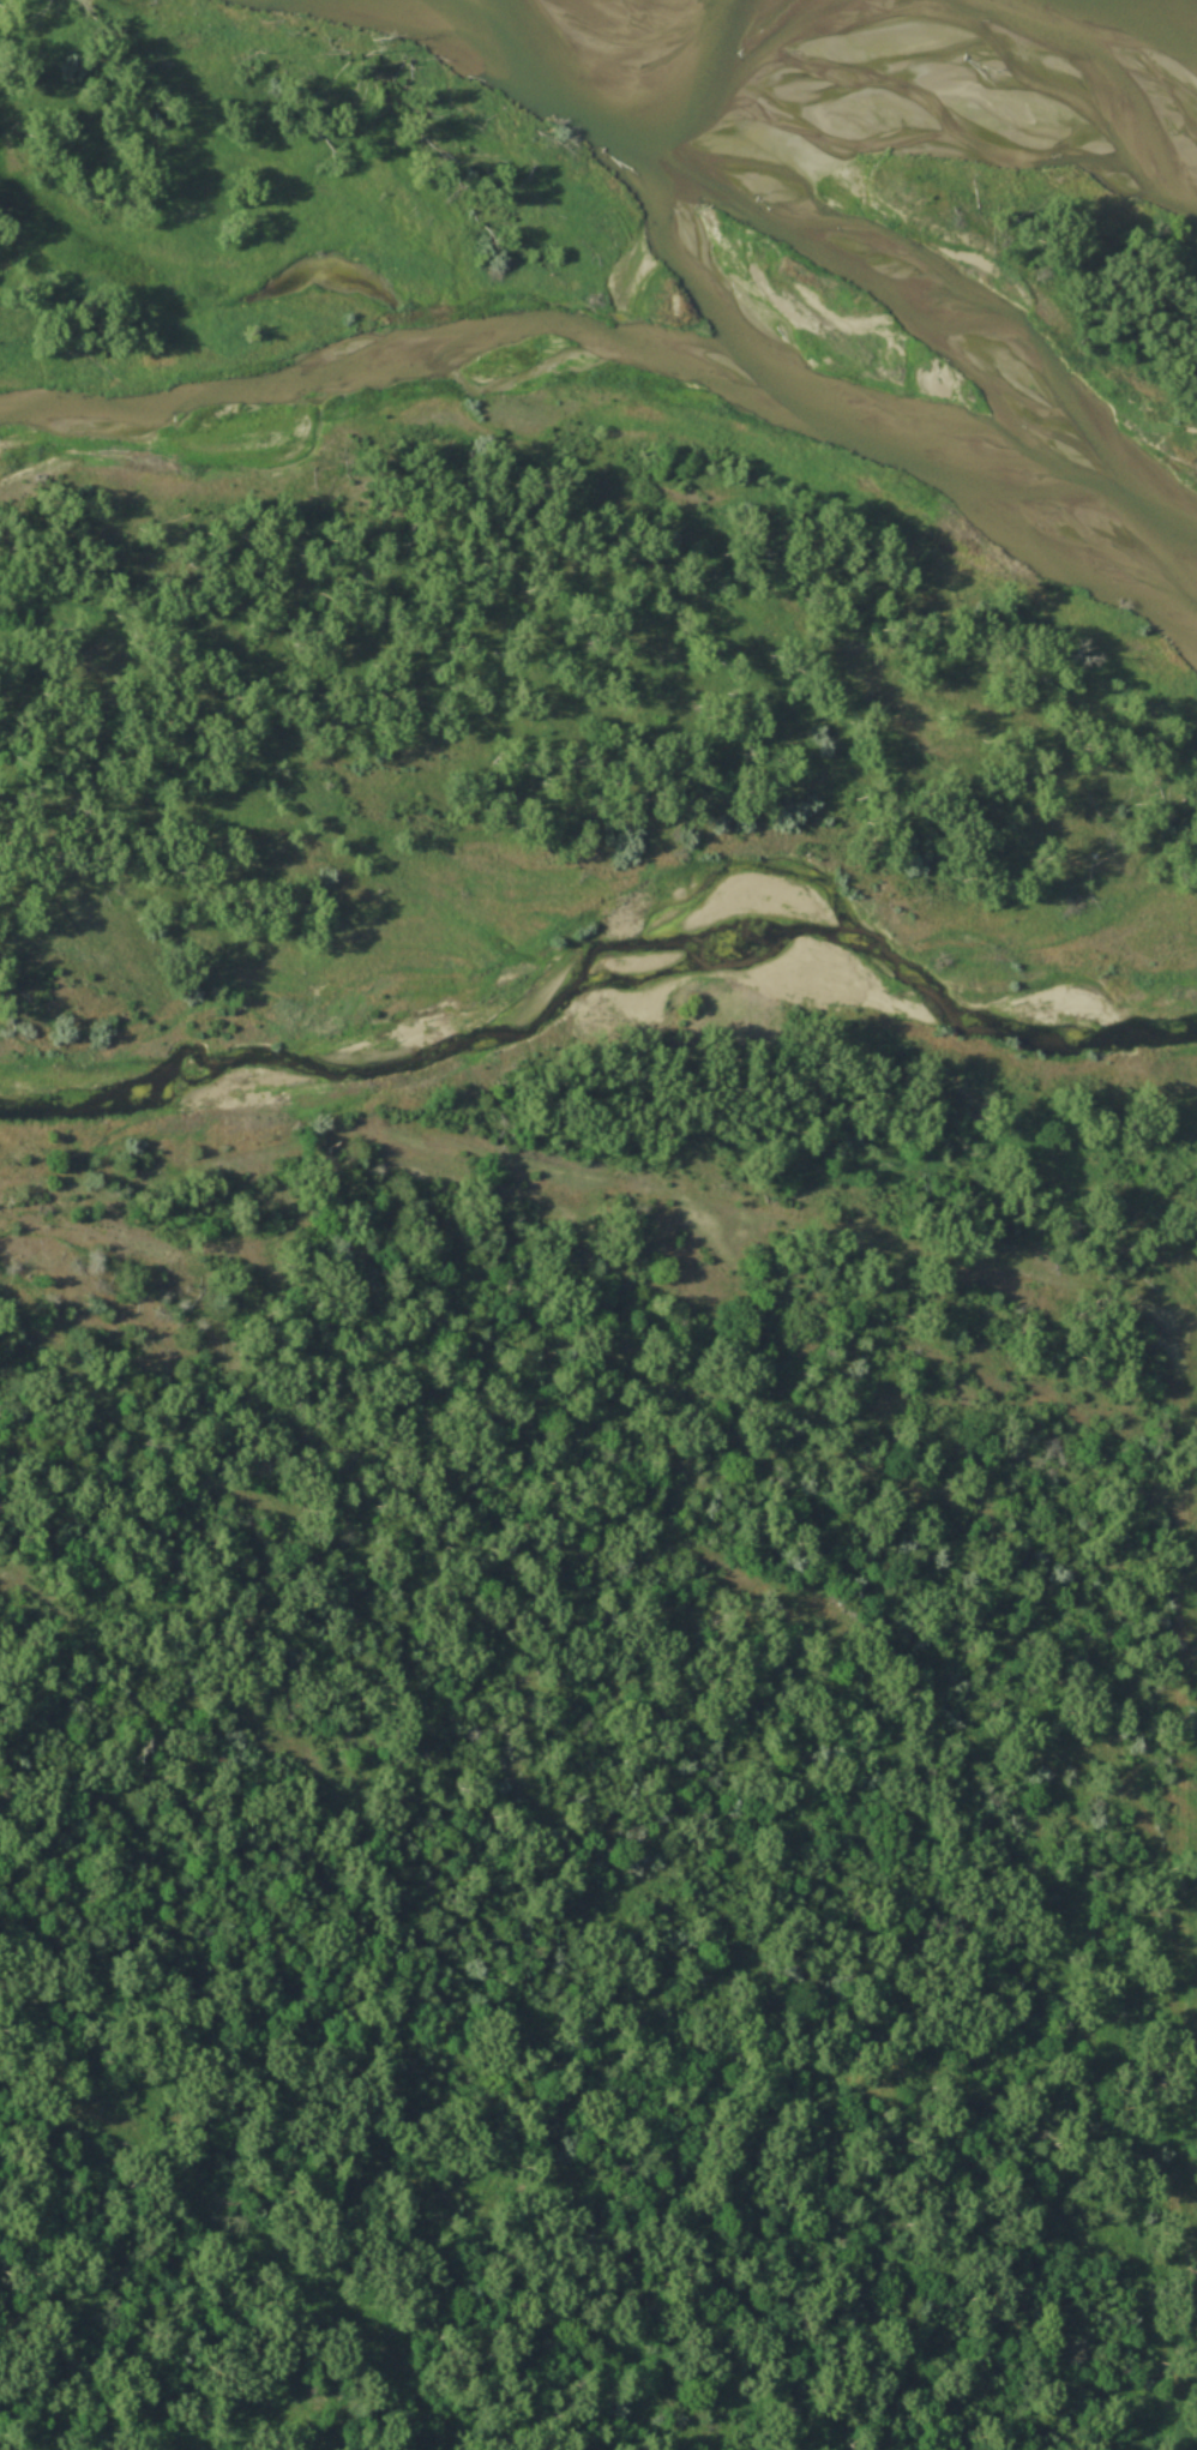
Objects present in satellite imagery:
river: (949, 50)

